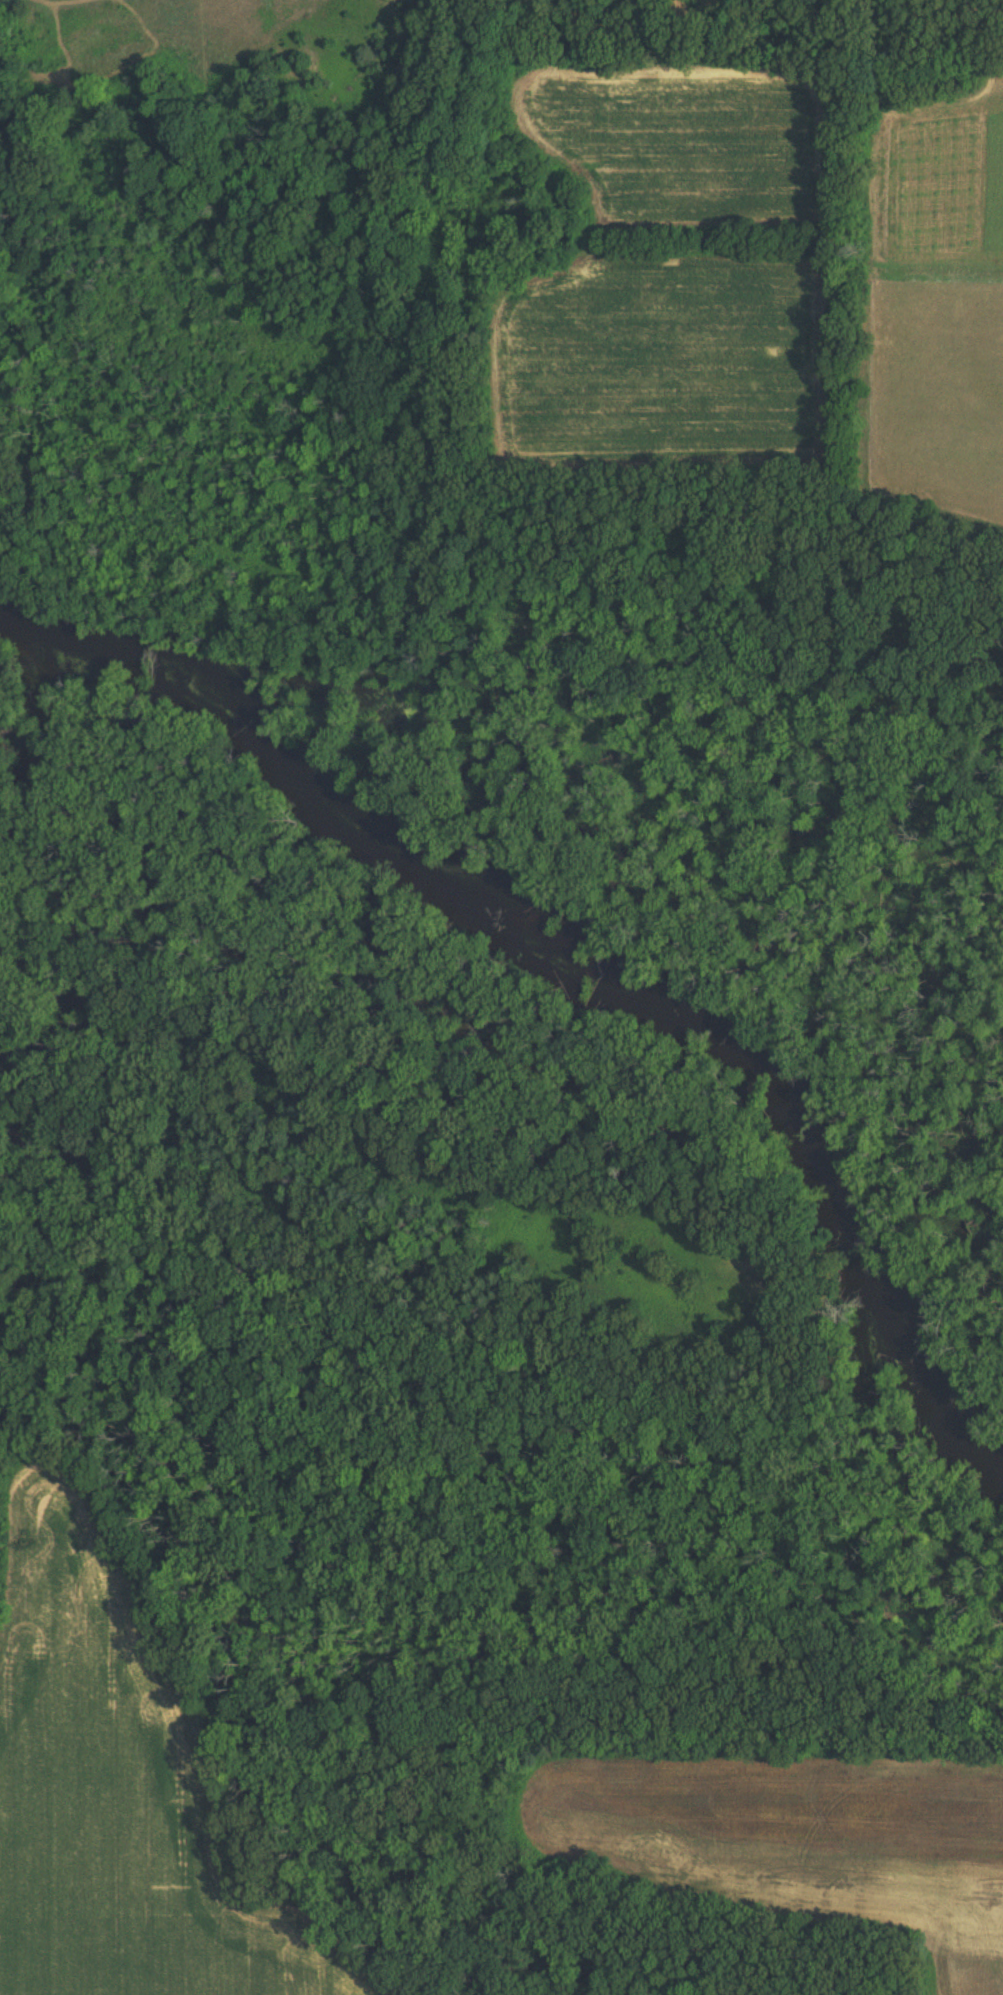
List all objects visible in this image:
river: (581, 959)

